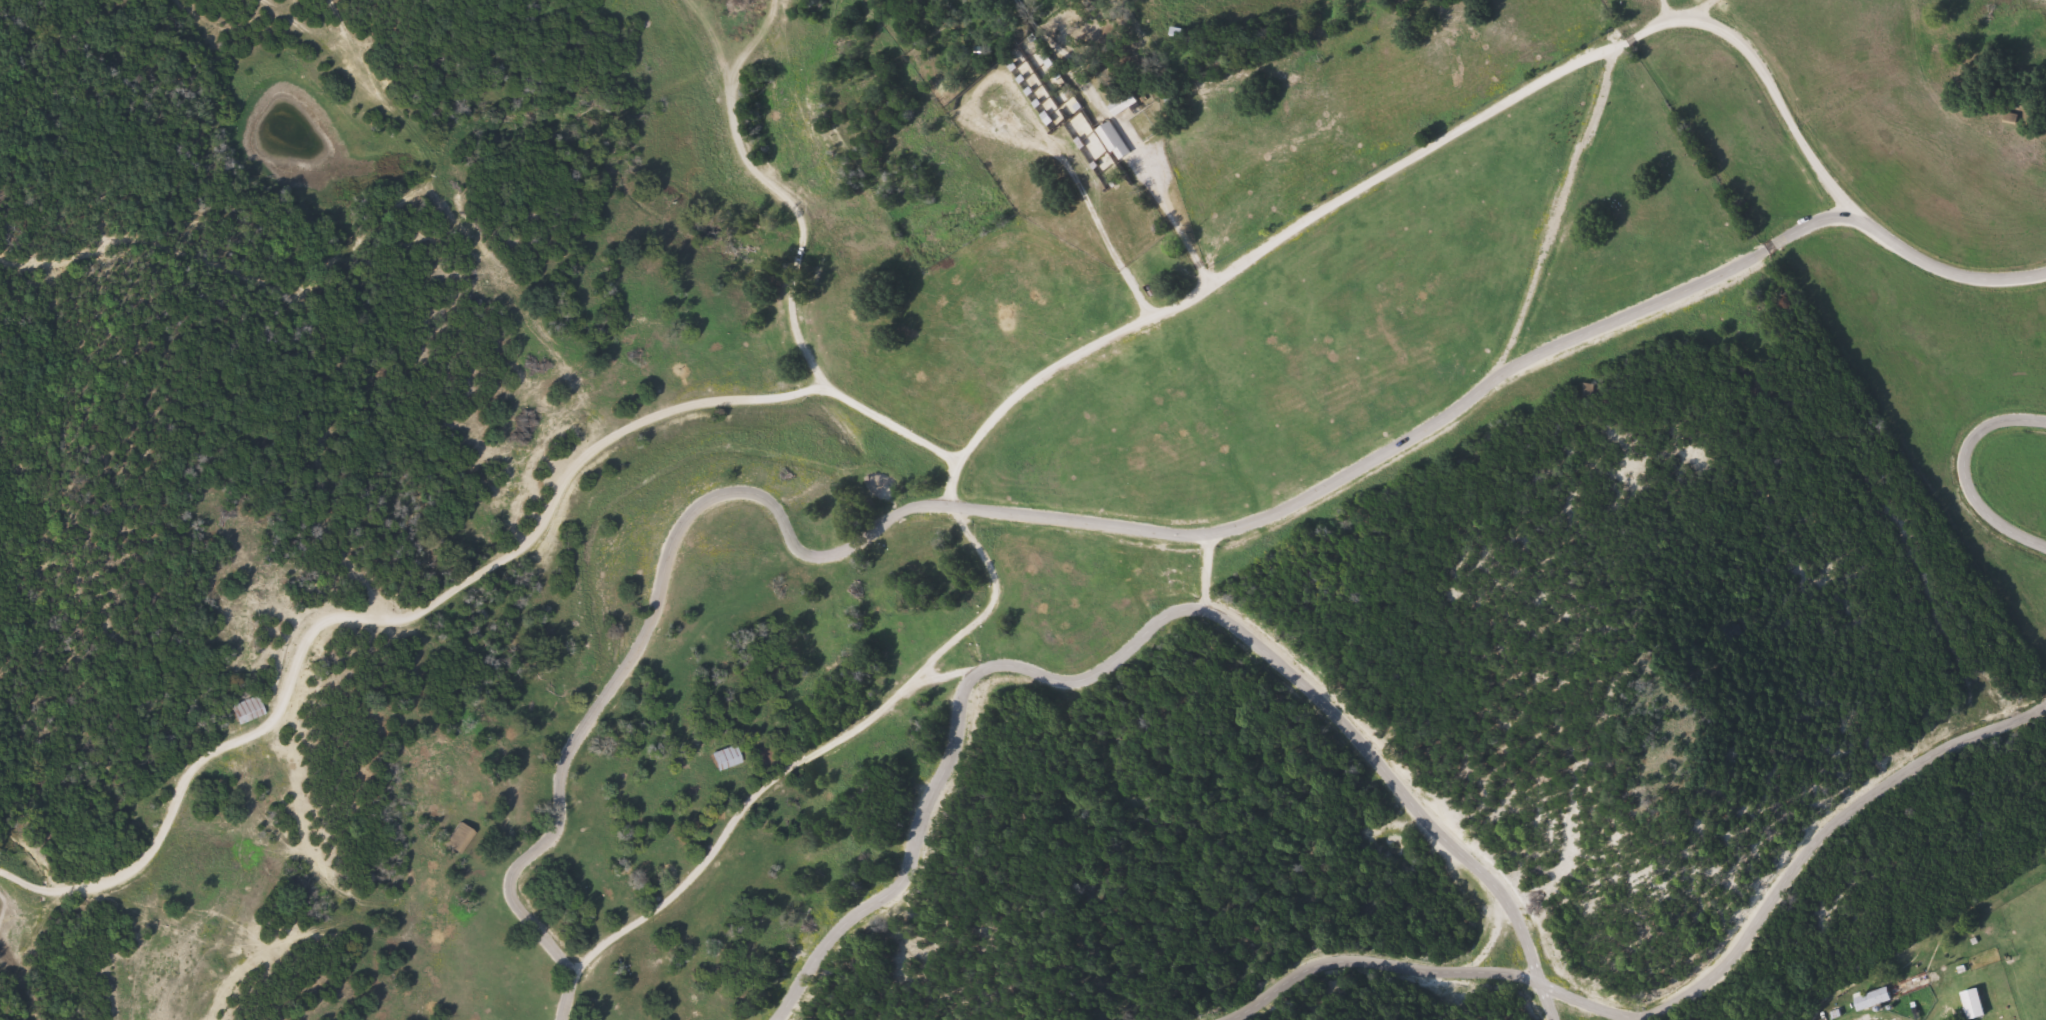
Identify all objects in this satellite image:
road: (1675, 7)
road: (749, 45)
building: (1125, 104)
building: (1116, 141)
road: (784, 192)
road: (470, 221)
road: (327, 277)
road: (1003, 409)
road: (1966, 471)
road: (995, 511)
building: (252, 711)
road: (815, 750)
building: (728, 758)
building: (462, 839)
road: (1809, 844)
road: (1459, 847)
road: (1517, 967)
building: (1874, 998)

